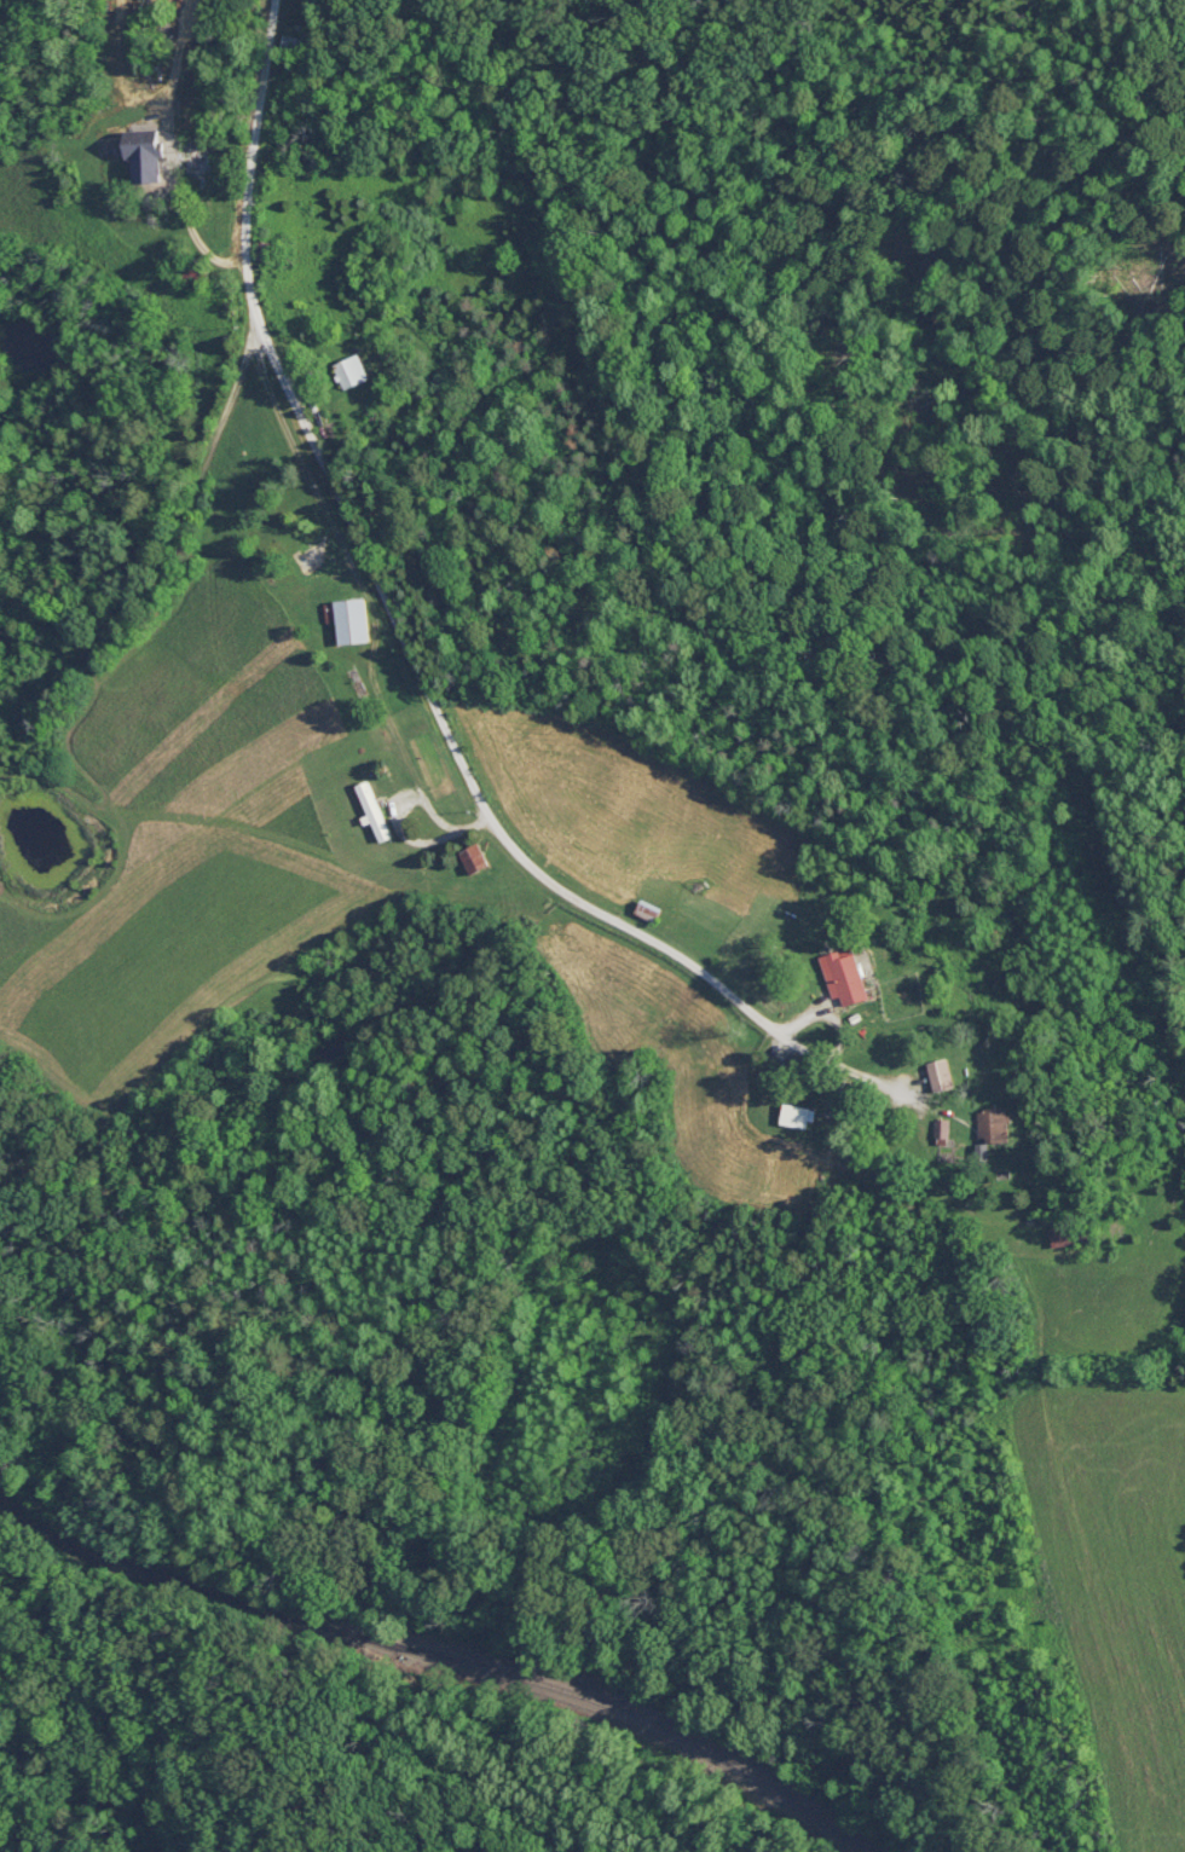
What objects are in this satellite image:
building: (297, 42)
building: (146, 154)
building: (197, 158)
road: (248, 193)
building: (196, 272)
building: (352, 370)
building: (317, 556)
building: (351, 618)
road: (472, 779)
building: (374, 810)
building: (476, 857)
building: (649, 910)
building: (845, 976)
building: (941, 1075)
building: (942, 1128)
building: (993, 1129)
railway: (446, 1651)

